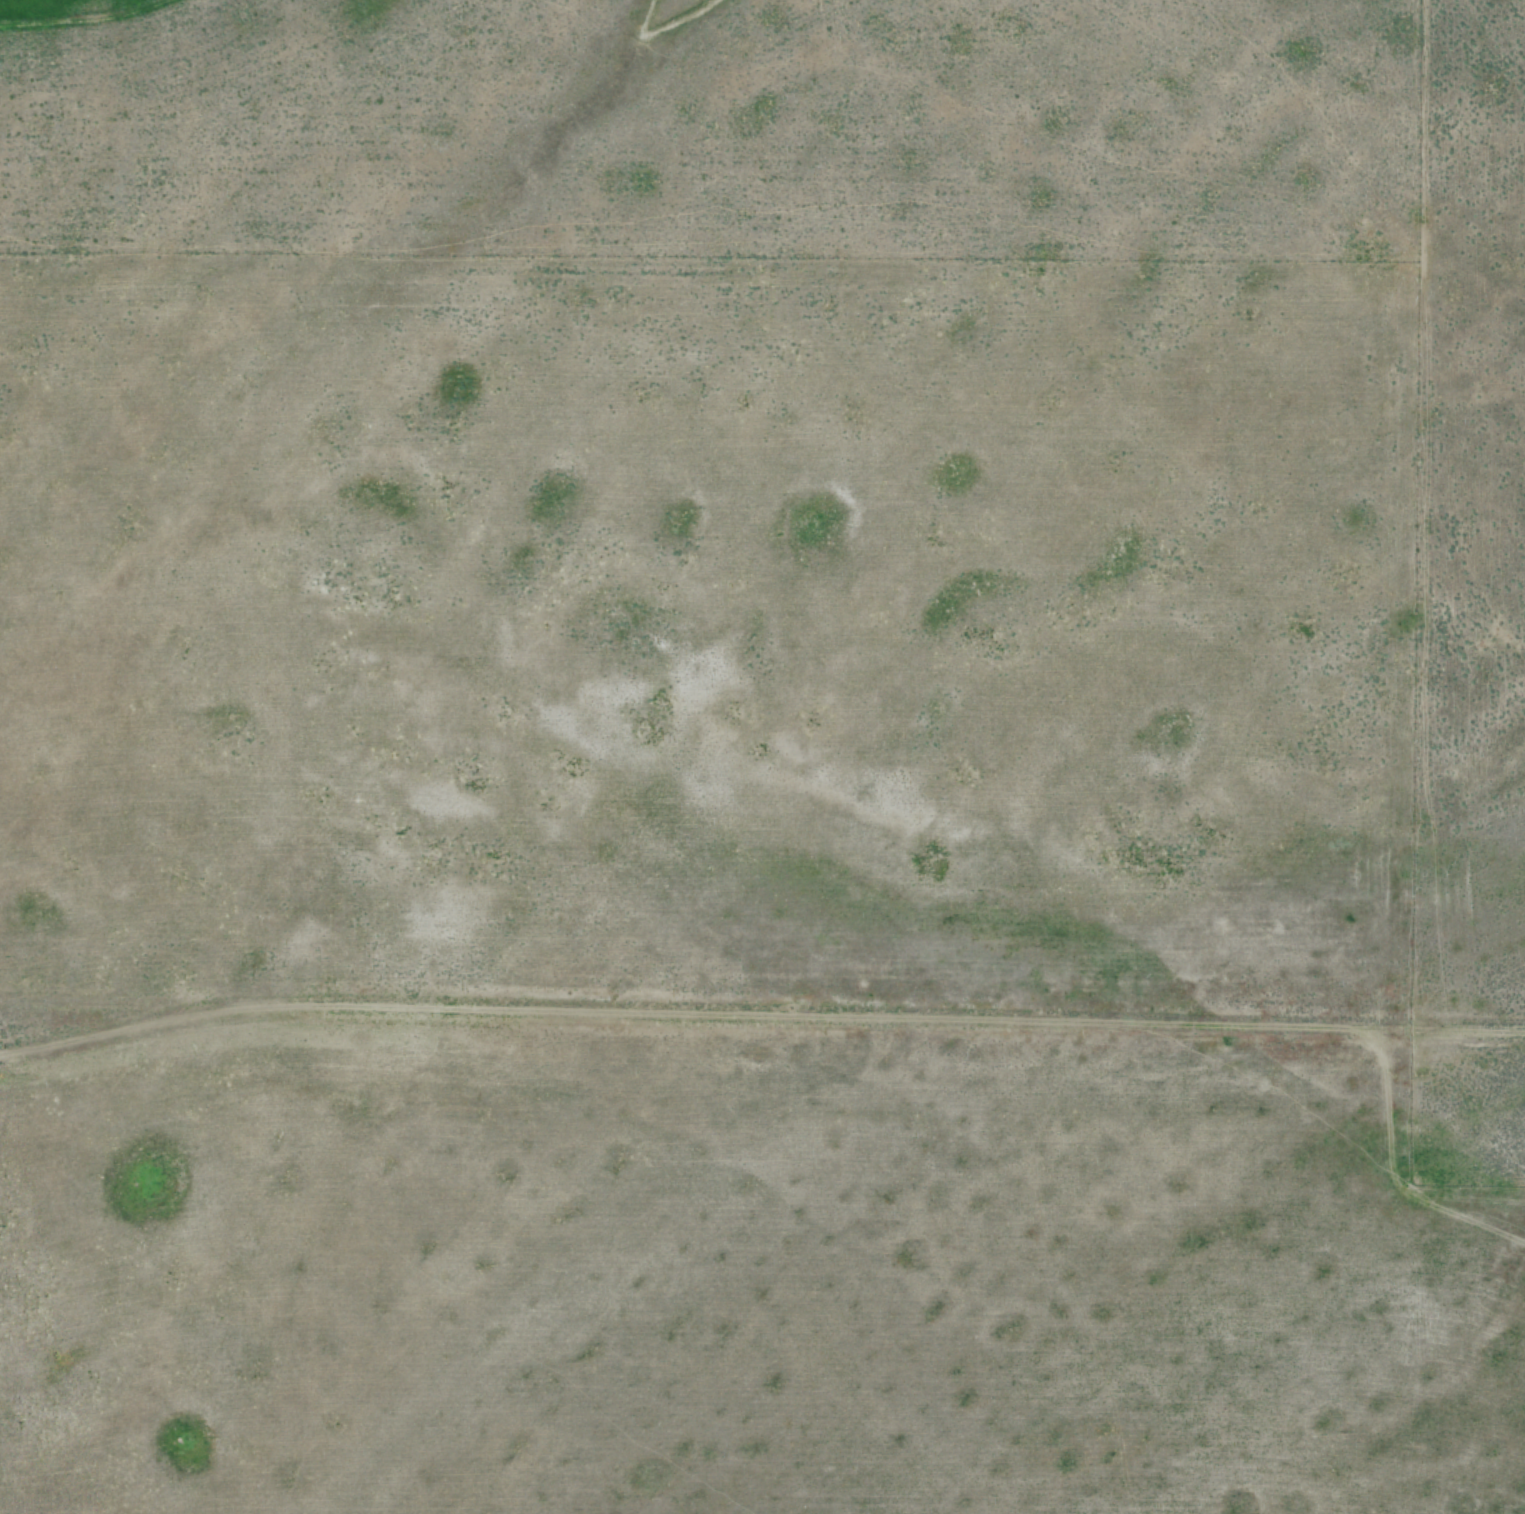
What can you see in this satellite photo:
road: (760, 1059)

